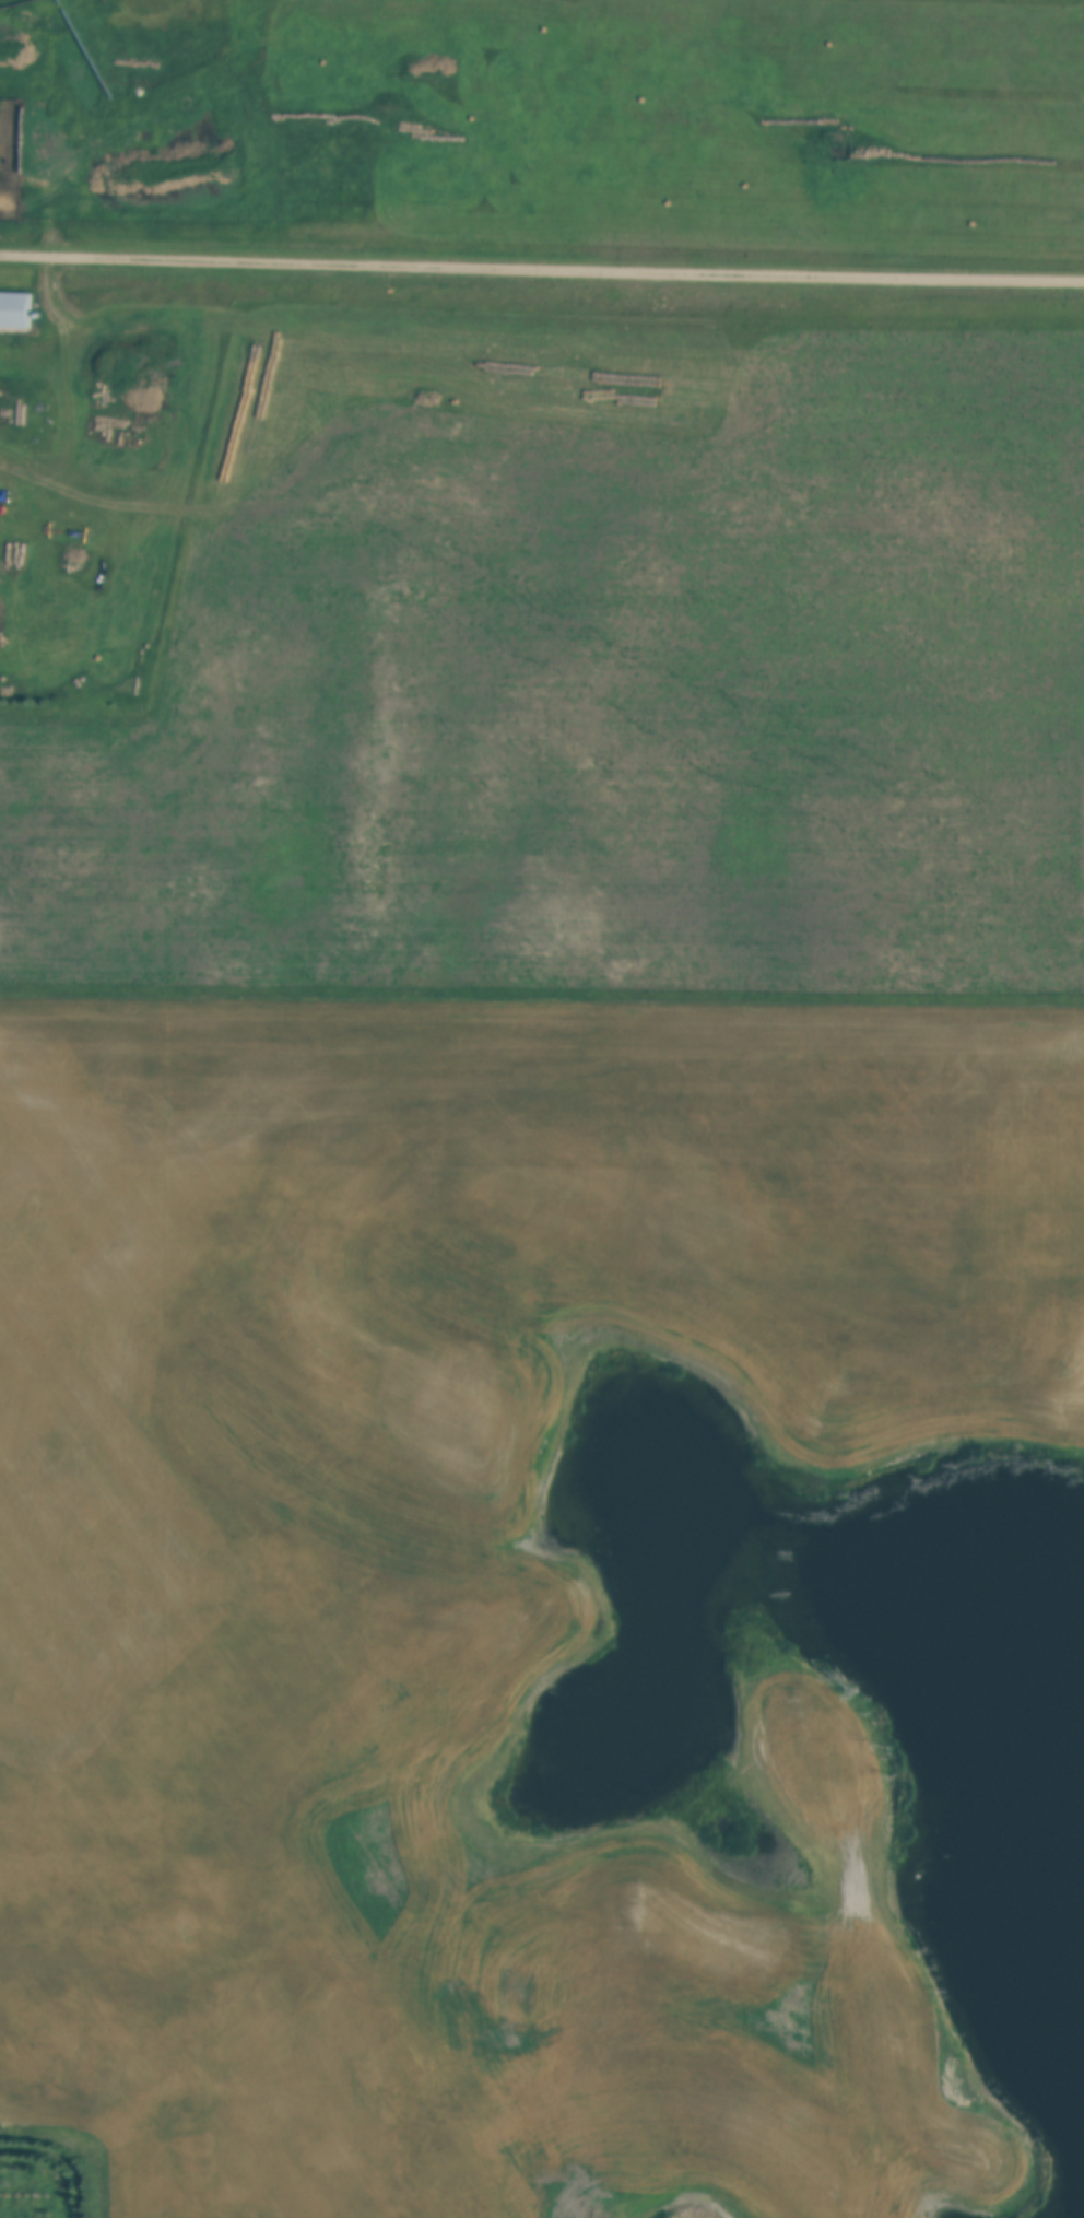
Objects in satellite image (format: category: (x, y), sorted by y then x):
road: (542, 266)
building: (12, 301)

